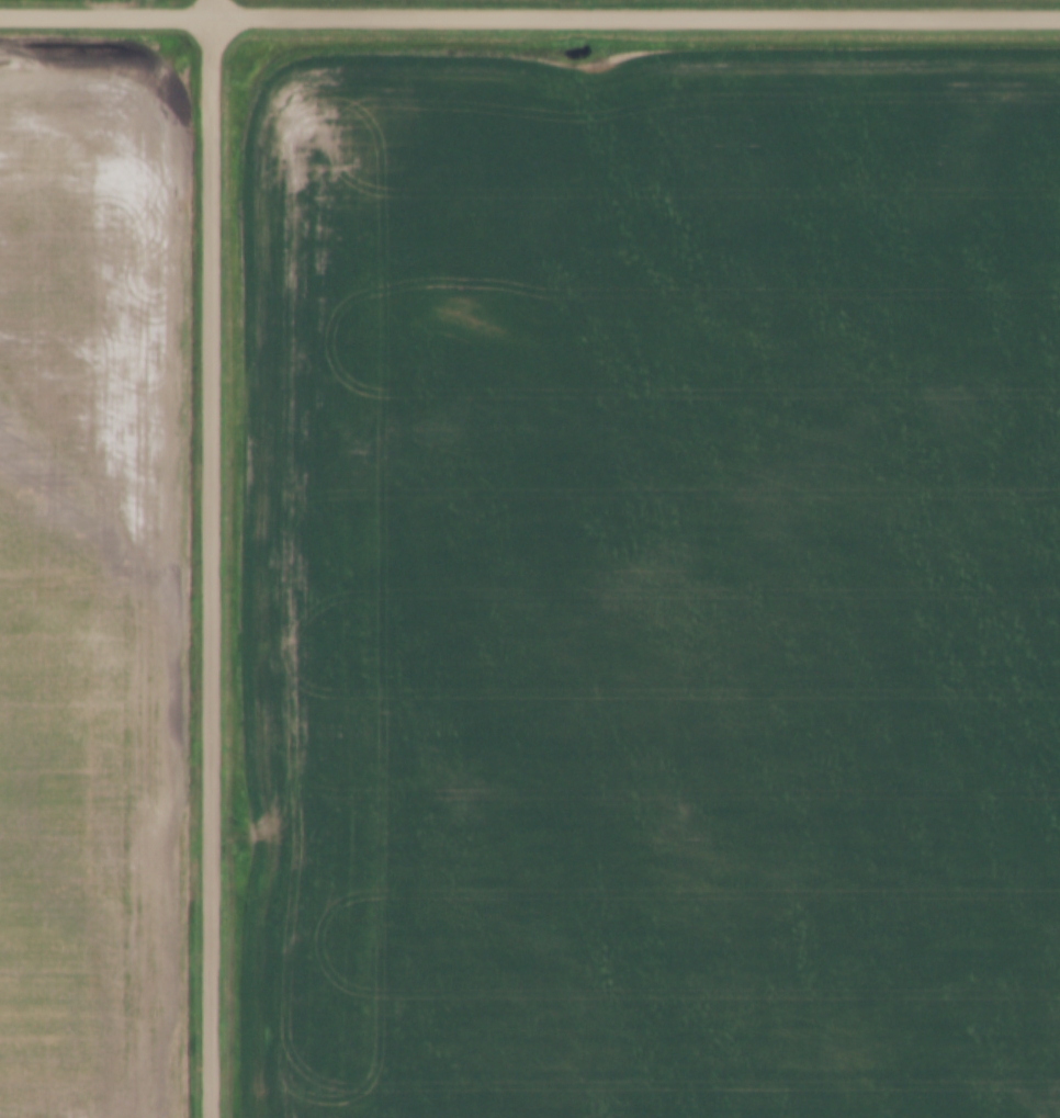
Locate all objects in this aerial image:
road: (529, 18)
road: (213, 558)

